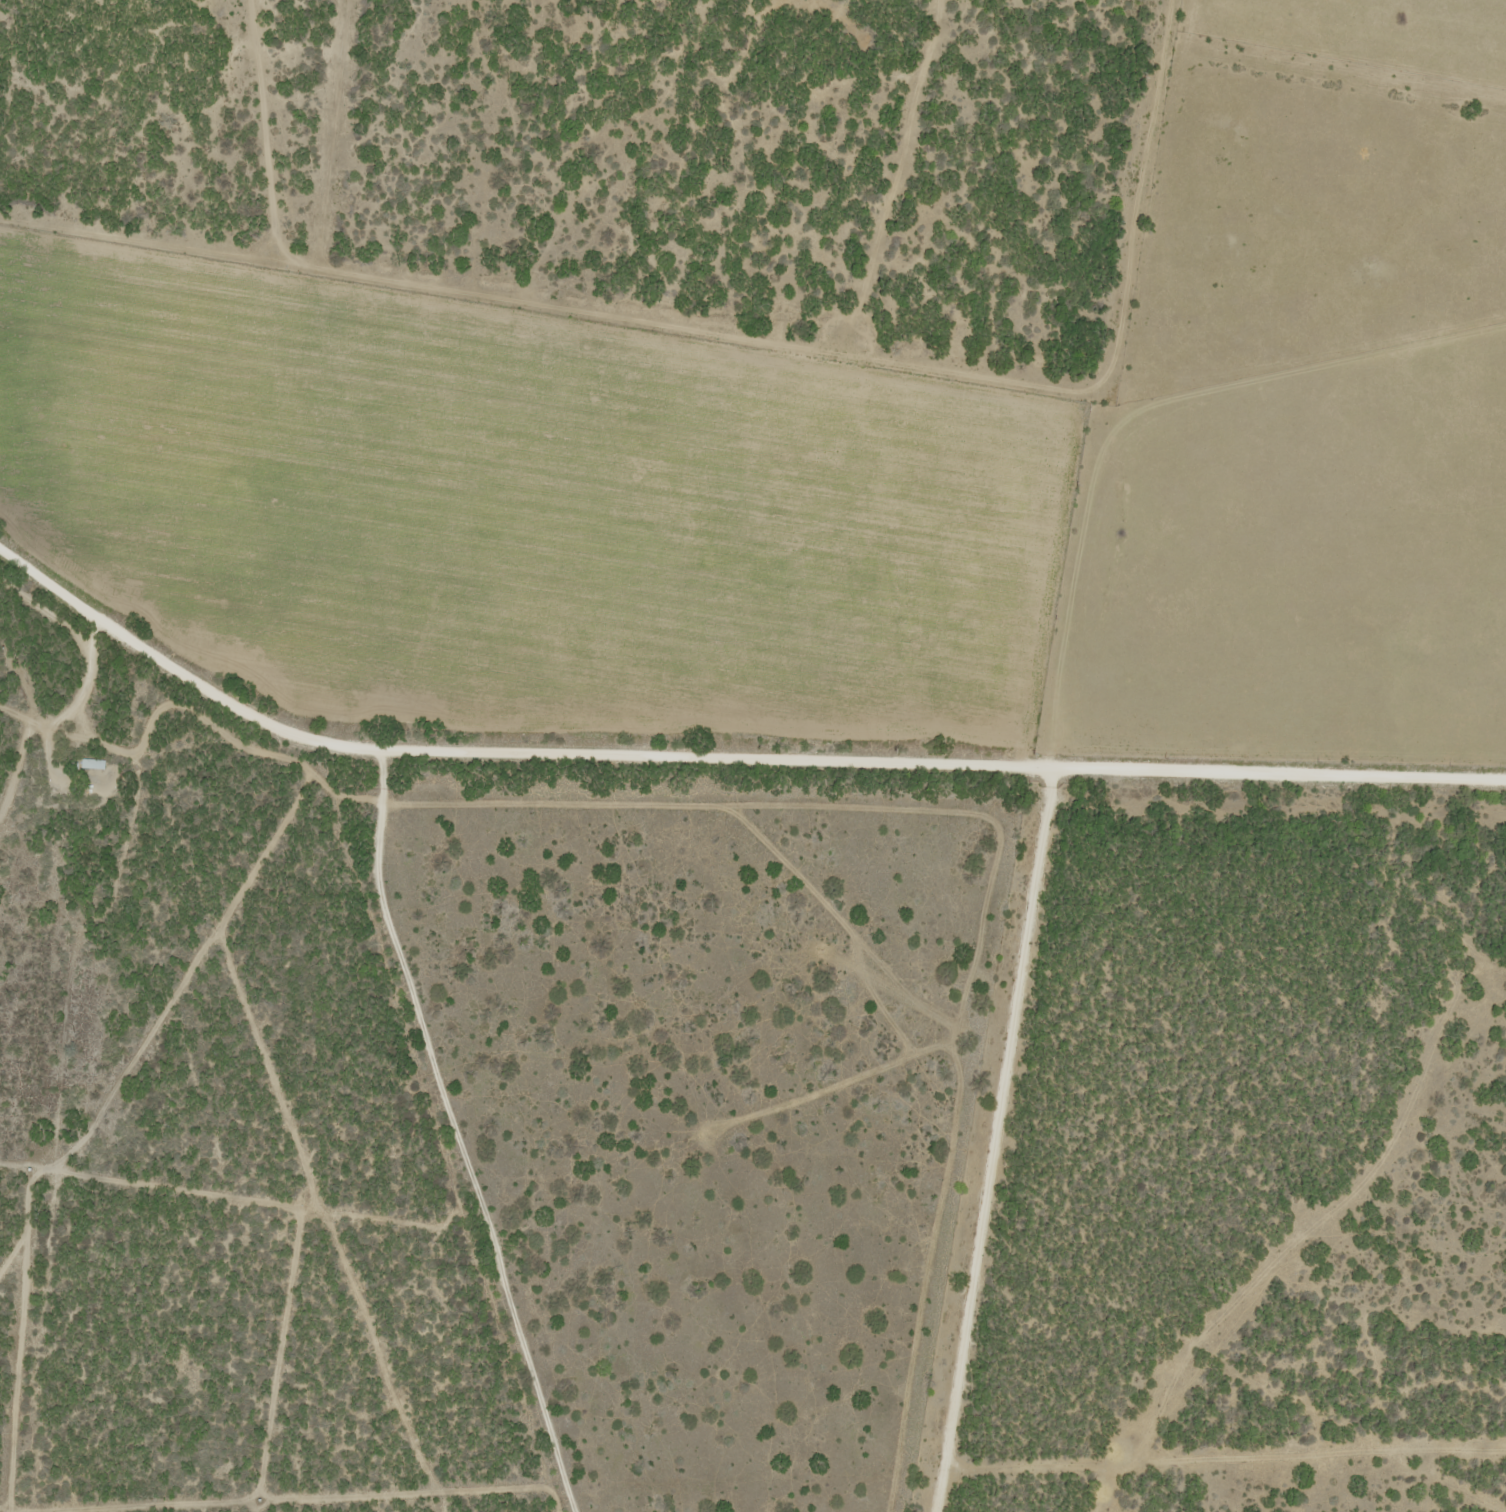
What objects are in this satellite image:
road: (135, 641)
building: (90, 763)
road: (742, 772)
road: (450, 1141)
road: (1001, 1145)

